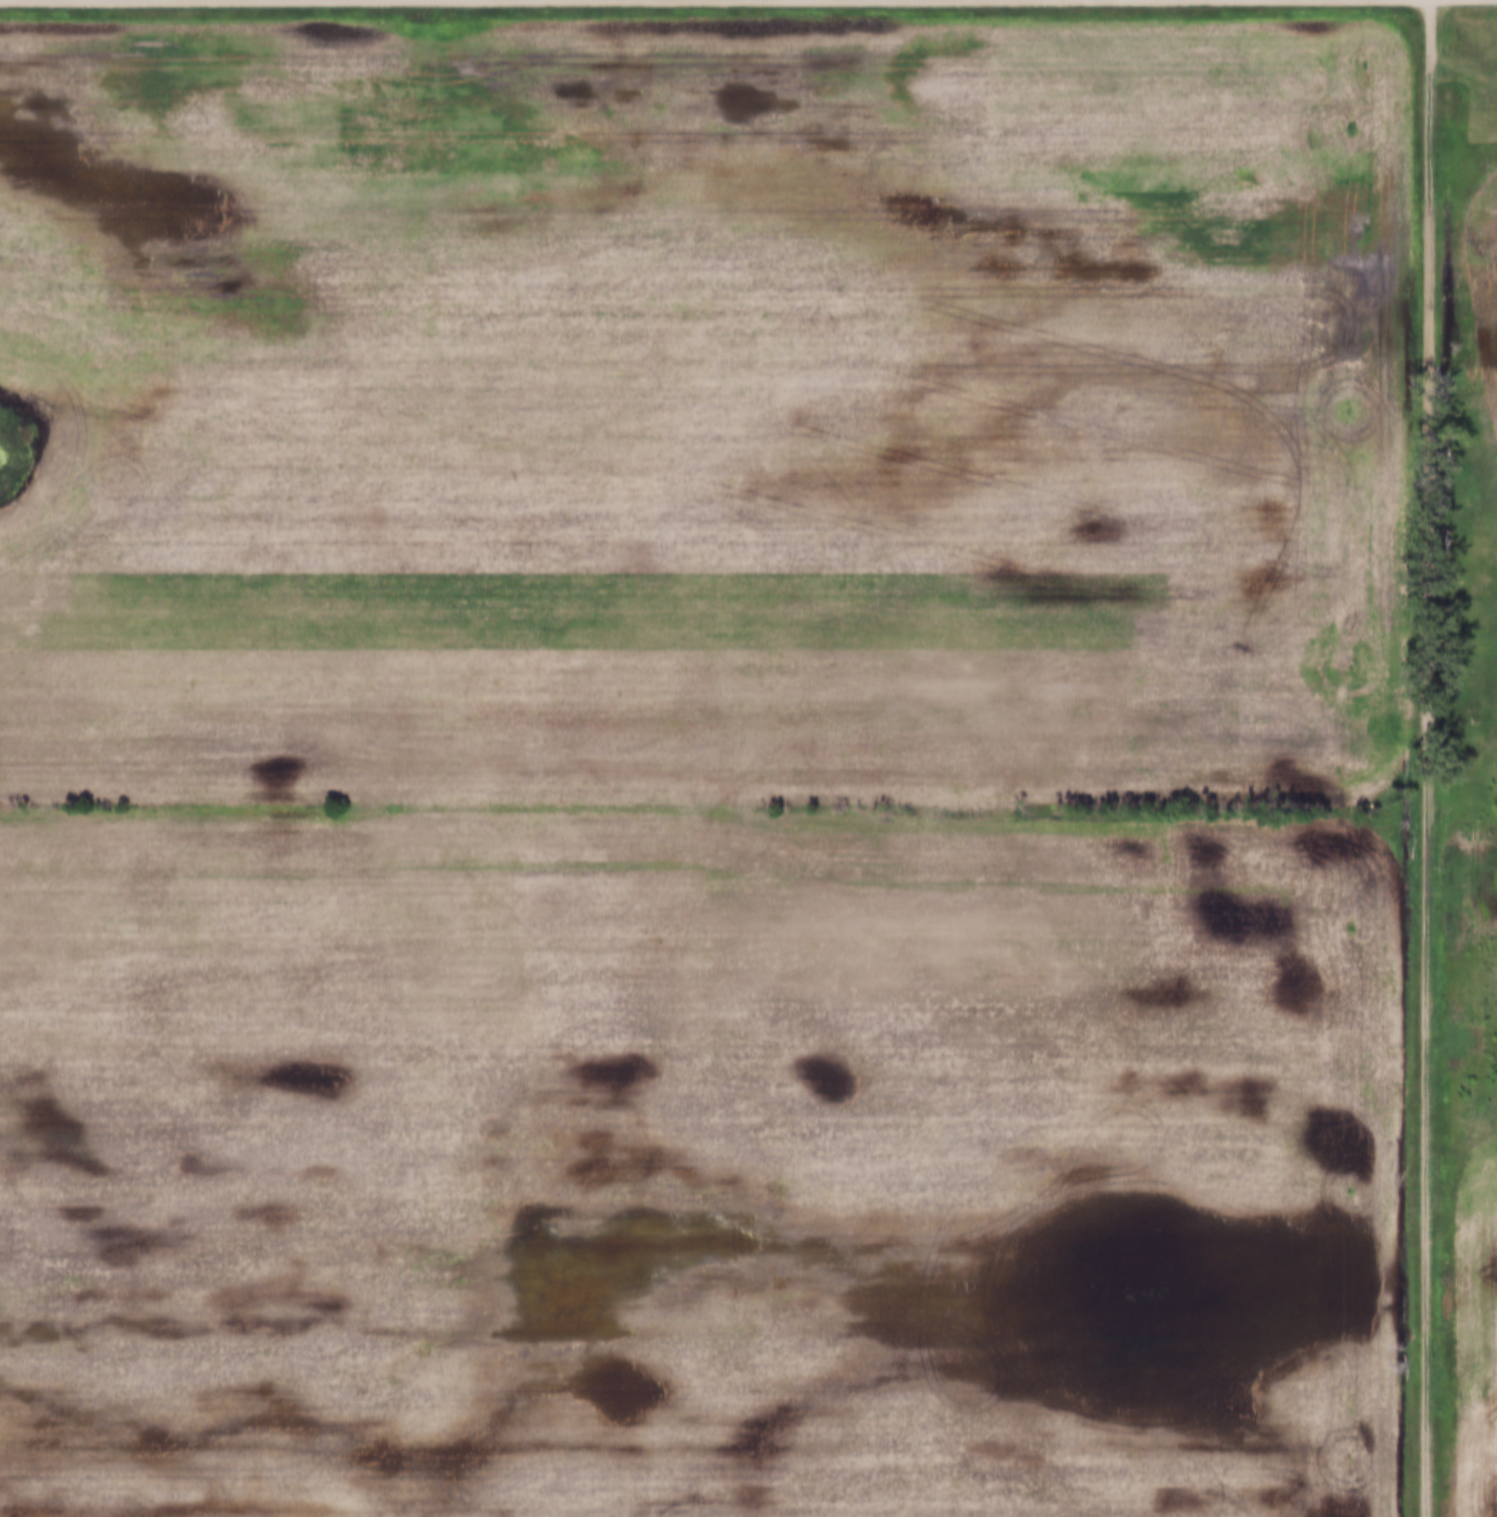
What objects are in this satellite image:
road: (1427, 758)

